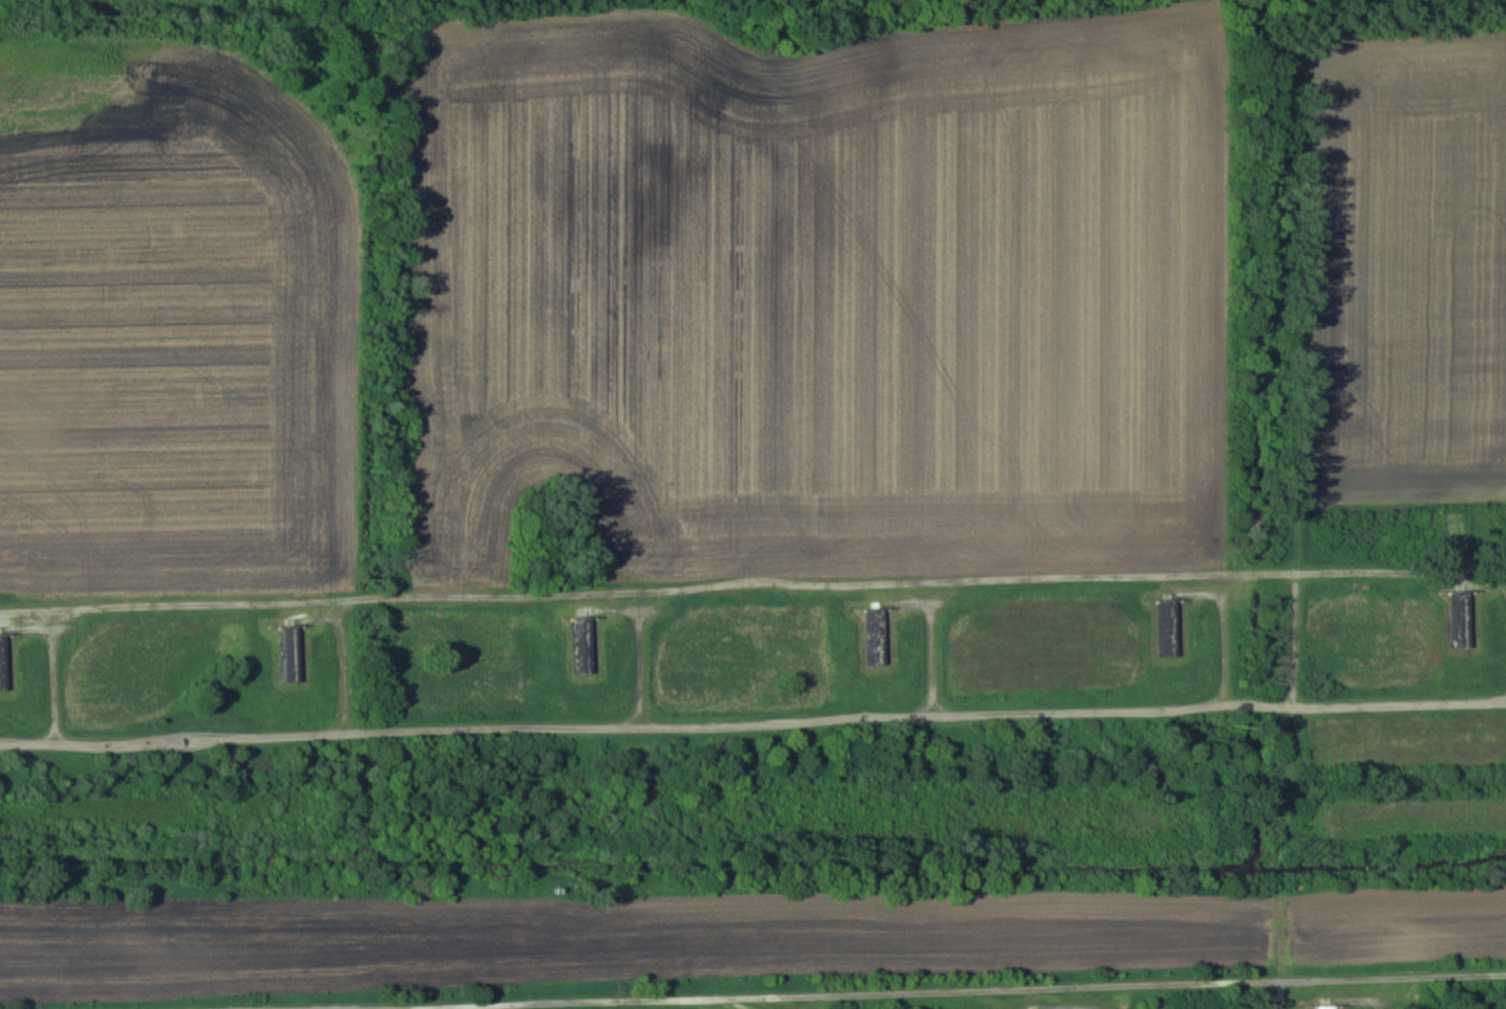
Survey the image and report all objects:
road: (642, 580)
building: (1360, 586)
building: (1460, 620)
building: (1167, 629)
building: (582, 645)
building: (289, 653)
building: (875, 656)
building: (3, 662)
road: (753, 722)
road: (1286, 785)
road: (924, 991)

